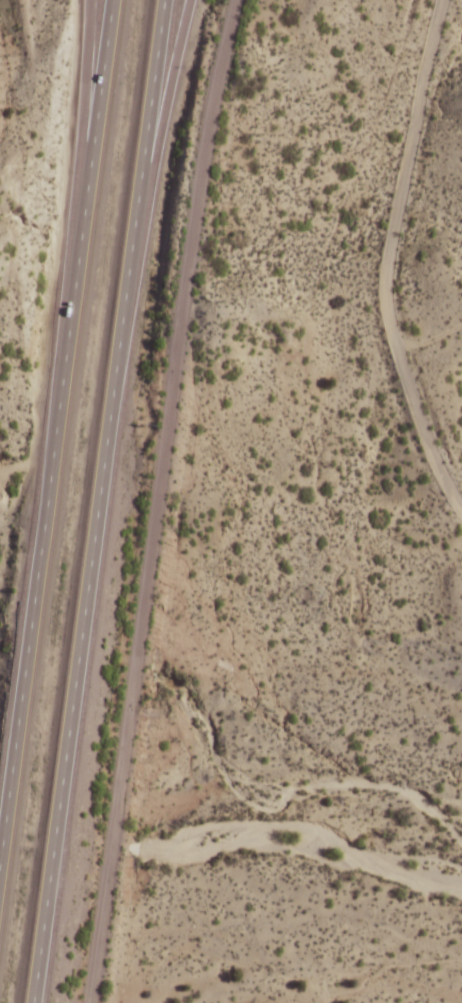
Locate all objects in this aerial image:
road: (152, 167)
road: (79, 171)
road: (394, 261)
road: (56, 424)
road: (157, 500)
road: (97, 501)
river: (297, 836)
river: (63, 838)

